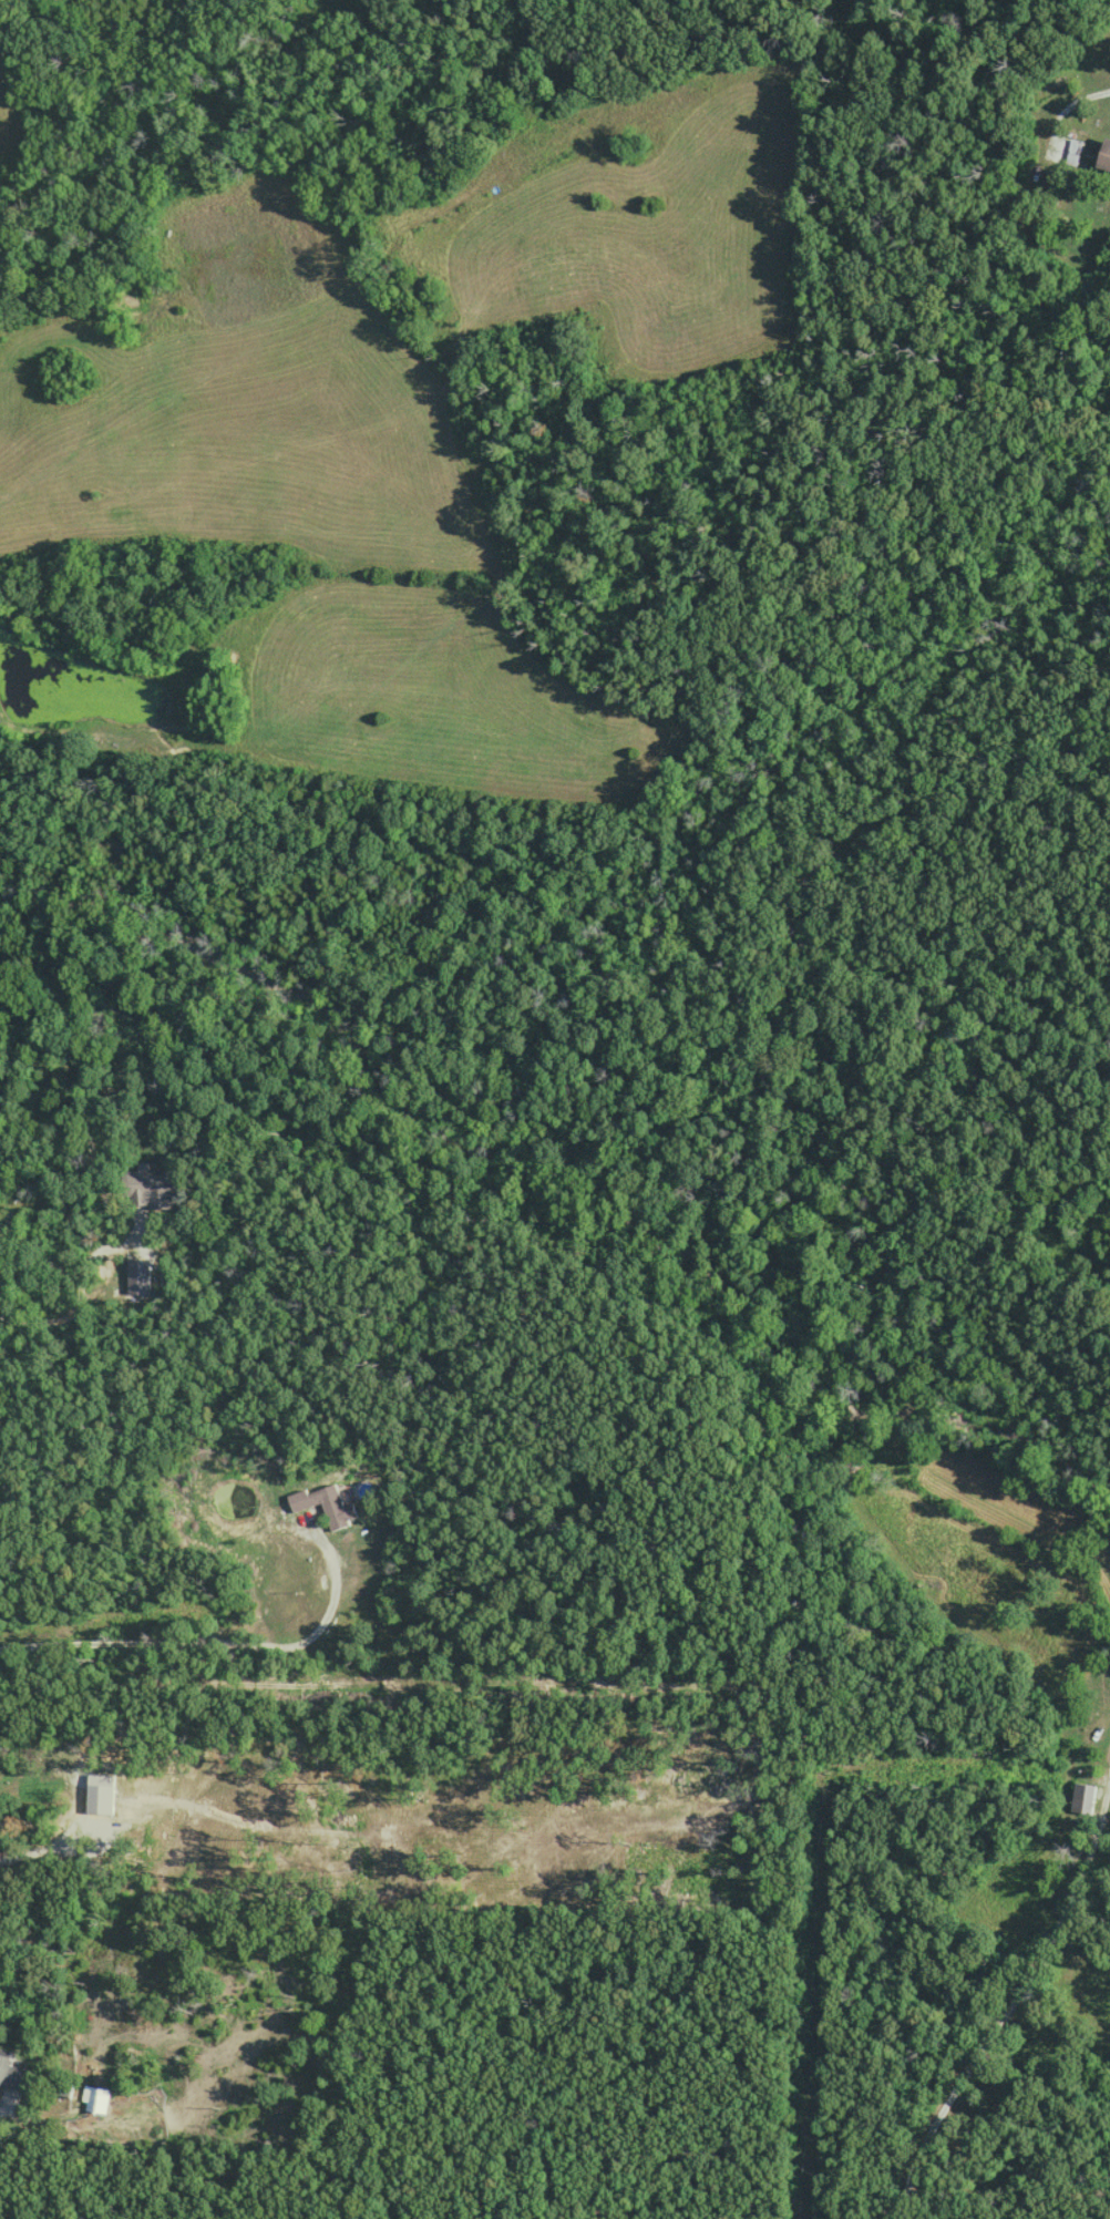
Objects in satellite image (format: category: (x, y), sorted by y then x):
road: (1065, 105)
building: (1072, 152)
building: (1104, 155)
building: (147, 1186)
road: (70, 1309)
building: (326, 1504)
road: (218, 1640)
road: (1015, 1995)
building: (10, 2071)
building: (97, 2100)
road: (1, 2107)

